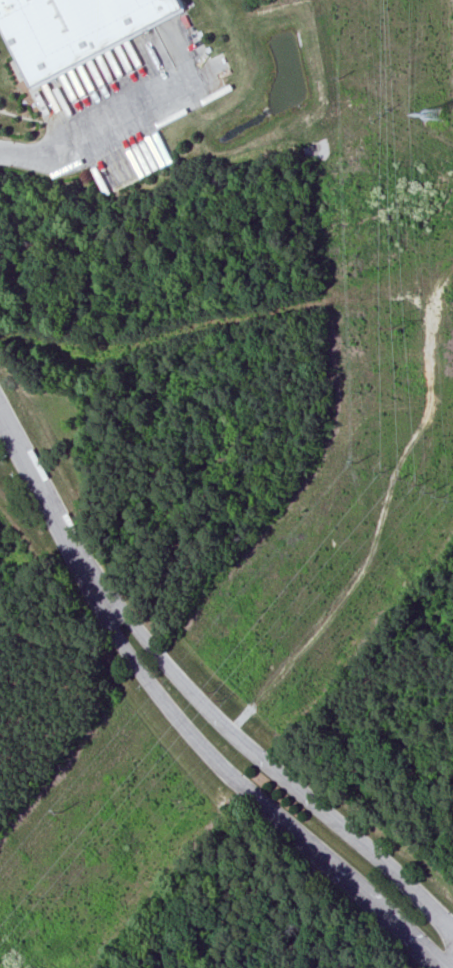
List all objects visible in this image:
building: (75, 29)
power tower: (339, 79)
parking lot: (127, 100)
power tower: (383, 114)
road: (20, 116)
power tower: (432, 116)
road: (102, 134)
power tower: (398, 328)
power tower: (357, 462)
power tower: (400, 478)
road: (45, 492)
power tower: (442, 496)
road: (127, 618)
power tower: (218, 696)
road: (242, 788)
road: (306, 799)
power tower: (183, 802)
power tower: (61, 812)

